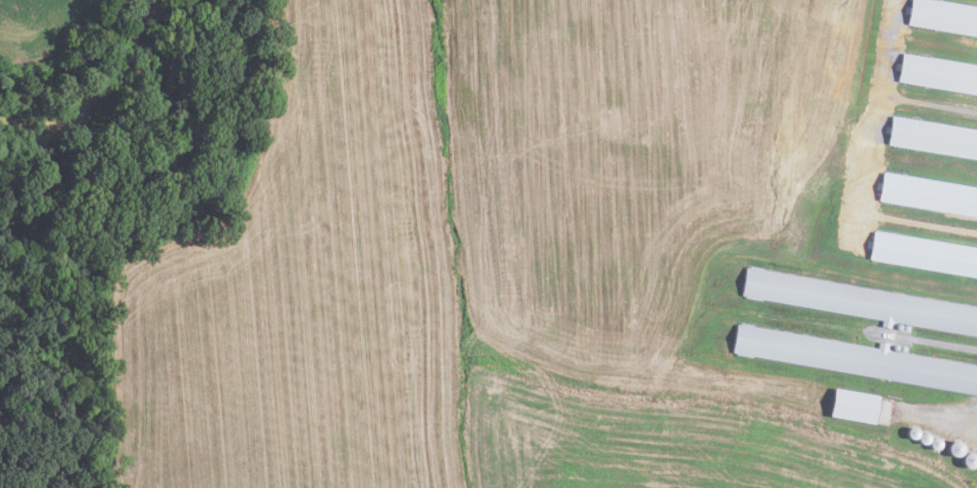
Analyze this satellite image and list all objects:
building: (944, 16)
building: (939, 73)
building: (933, 137)
crop: (626, 169)
building: (929, 191)
building: (923, 253)
crop: (309, 287)
building: (861, 302)
building: (856, 358)
building: (861, 408)
building: (911, 432)
silo: (911, 432)
building: (924, 438)
silo: (924, 438)
building: (935, 443)
silo: (935, 443)
crop: (658, 448)
building: (955, 448)
silo: (955, 448)
building: (969, 460)
silo: (969, 460)

